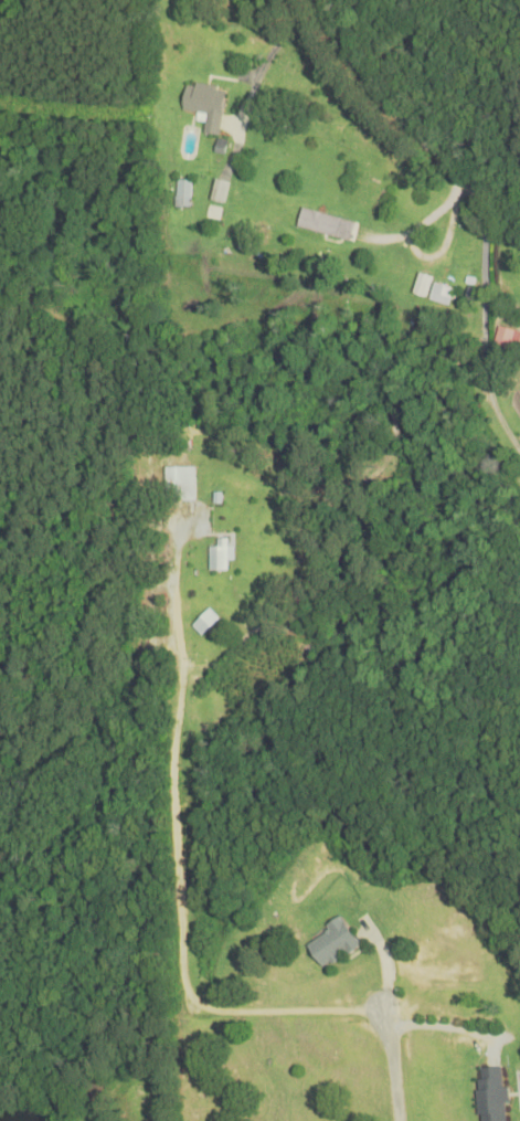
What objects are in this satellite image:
building: (206, 105)
road: (445, 158)
building: (327, 225)
building: (444, 285)
building: (422, 286)
building: (503, 338)
building: (180, 484)
building: (220, 556)
road: (182, 944)
building: (331, 944)
building: (491, 1094)

